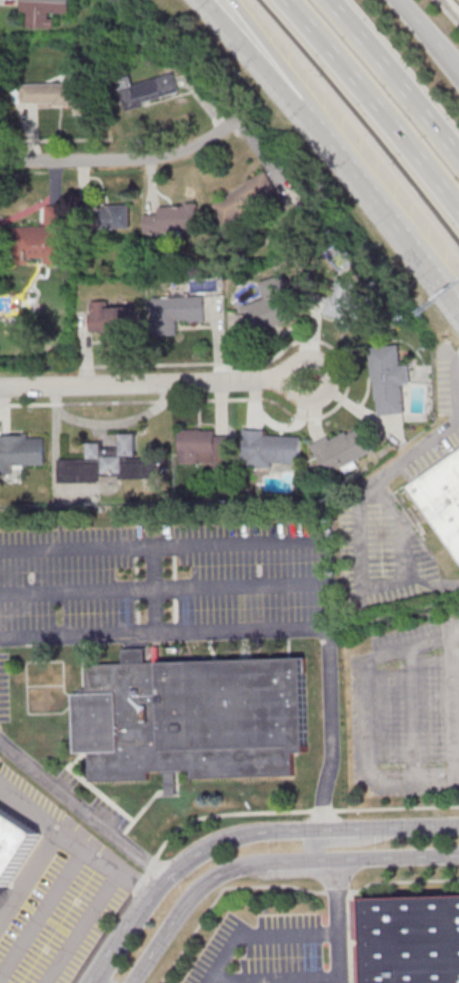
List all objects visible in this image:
building: (44, 11)
road: (430, 31)
road: (270, 76)
road: (290, 76)
road: (392, 80)
building: (148, 90)
building: (55, 94)
road: (372, 106)
road: (126, 160)
road: (379, 197)
building: (247, 198)
building: (113, 216)
building: (169, 220)
building: (43, 239)
road: (437, 264)
road: (437, 275)
building: (344, 301)
building: (271, 306)
building: (177, 311)
building: (110, 317)
building: (389, 379)
road: (448, 382)
road: (156, 384)
road: (328, 412)
building: (201, 445)
building: (270, 448)
building: (344, 449)
building: (21, 450)
road: (413, 456)
building: (110, 463)
building: (441, 500)
road: (305, 544)
road: (368, 580)
road: (153, 590)
road: (162, 633)
parking lot: (407, 711)
road: (365, 716)
building: (192, 717)
road: (81, 809)
road: (389, 827)
road: (73, 837)
road: (345, 841)
road: (215, 842)
building: (14, 843)
road: (452, 853)
road: (452, 855)
road: (397, 856)
road: (310, 859)
road: (184, 901)
road: (41, 908)
road: (332, 920)
road: (82, 925)
road: (257, 935)
building: (412, 939)
road: (112, 947)
parking lot: (273, 950)
road: (271, 979)
road: (92, 982)

